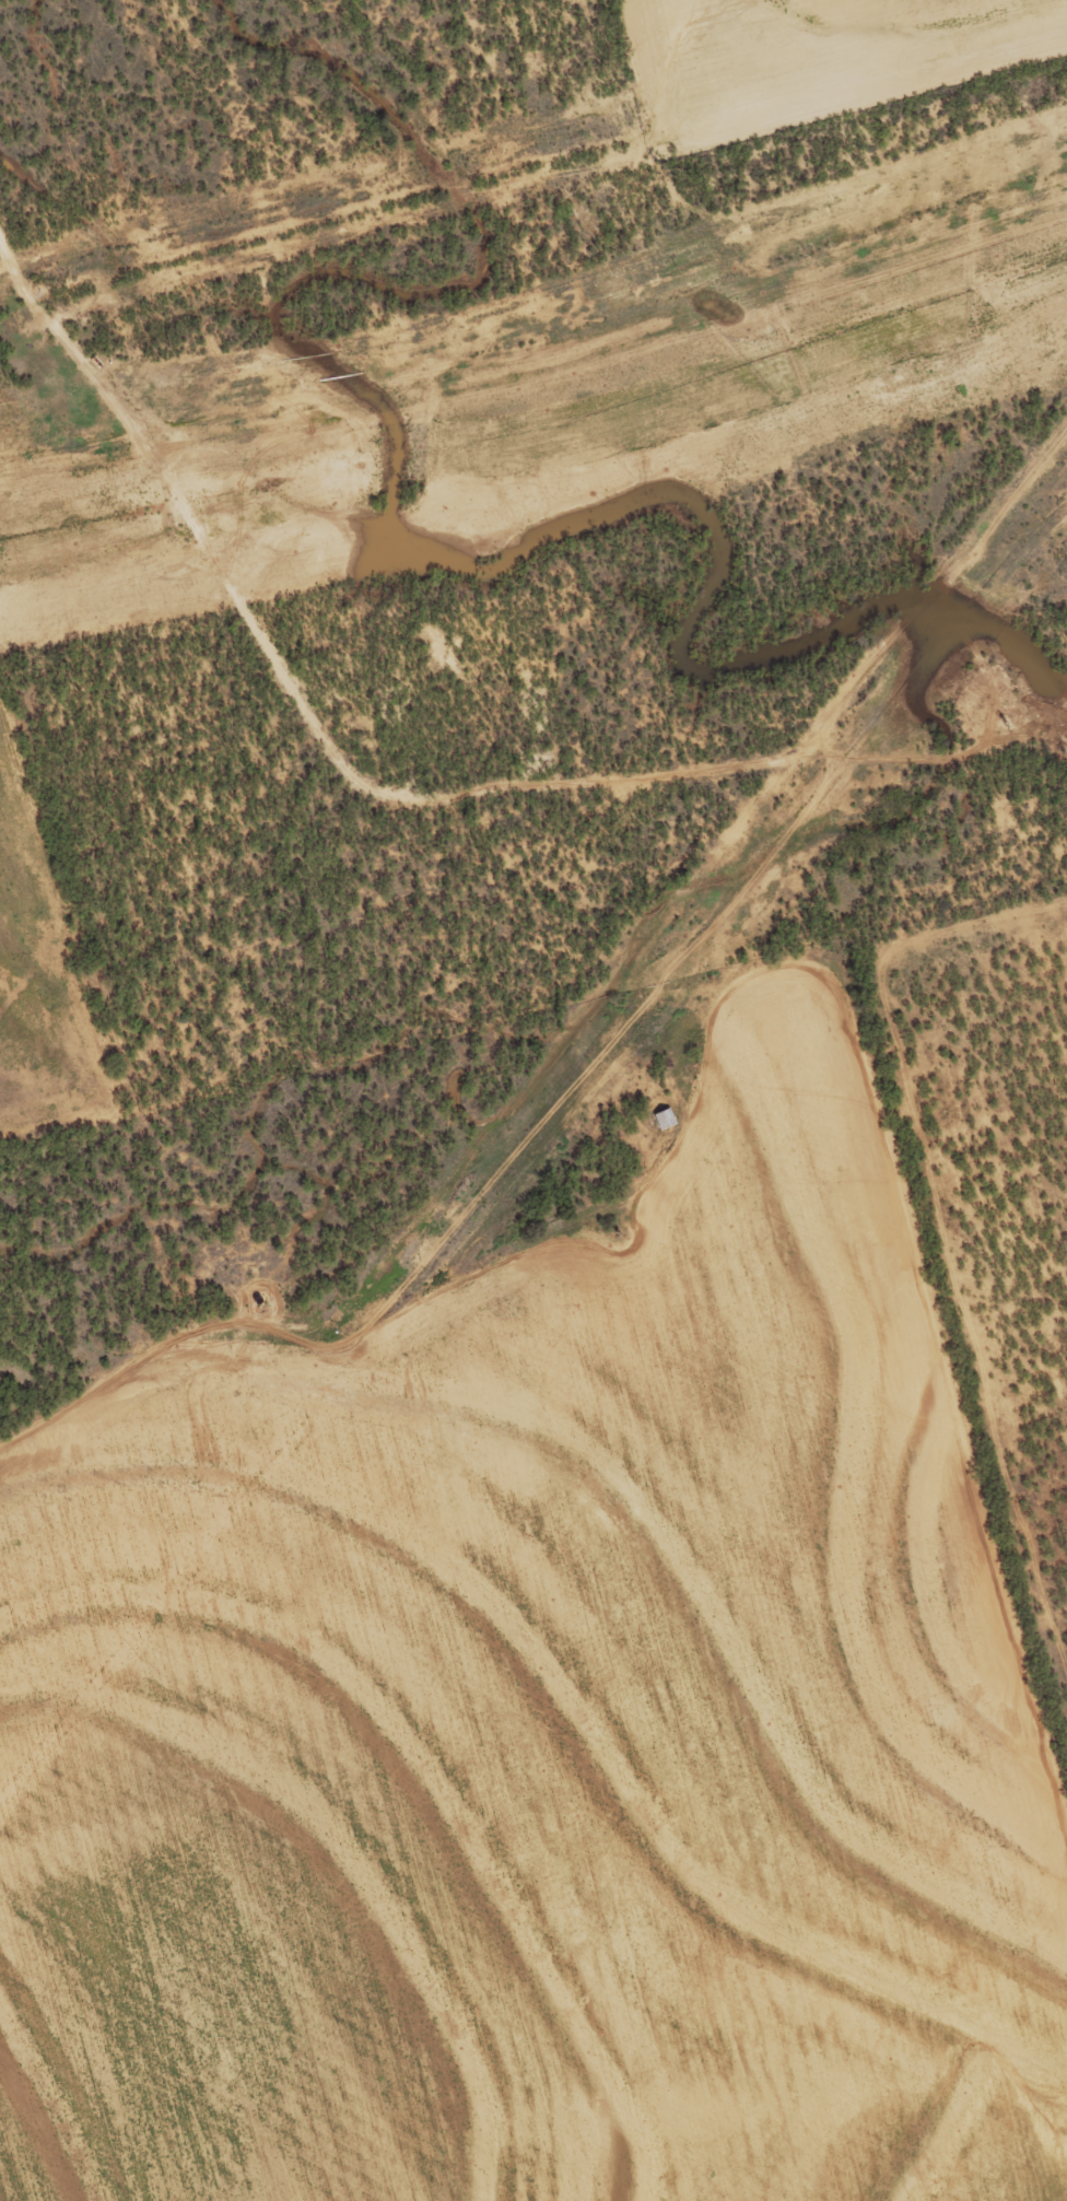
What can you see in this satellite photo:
road: (751, 785)
building: (666, 1119)
road: (1004, 1139)

